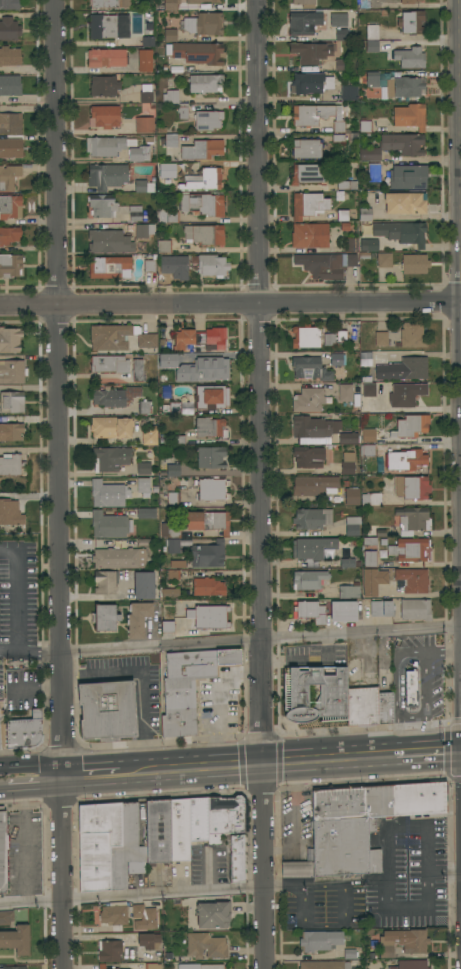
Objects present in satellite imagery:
building: (409, 1)
building: (303, 2)
building: (109, 3)
building: (9, 4)
road: (419, 5)
building: (170, 7)
building: (338, 19)
building: (411, 22)
building: (303, 23)
building: (205, 24)
building: (109, 26)
building: (9, 29)
building: (372, 32)
building: (341, 34)
building: (170, 35)
building: (147, 41)
building: (372, 46)
building: (306, 52)
building: (199, 53)
building: (9, 56)
building: (107, 57)
building: (409, 57)
building: (144, 61)
building: (341, 65)
building: (372, 79)
building: (205, 83)
building: (310, 83)
building: (10, 85)
building: (103, 86)
building: (407, 87)
building: (349, 92)
road: (460, 97)
building: (147, 98)
road: (460, 99)
building: (175, 103)
building: (311, 114)
building: (104, 116)
building: (410, 116)
building: (207, 120)
building: (10, 123)
building: (144, 125)
building: (365, 125)
building: (338, 126)
building: (169, 140)
building: (107, 145)
building: (393, 146)
building: (11, 148)
building: (307, 148)
building: (202, 149)
building: (138, 153)
building: (167, 170)
building: (374, 172)
building: (306, 175)
building: (9, 176)
building: (107, 176)
building: (408, 177)
building: (203, 180)
building: (144, 185)
building: (346, 185)
building: (375, 197)
building: (404, 203)
building: (202, 204)
building: (102, 205)
building: (308, 205)
building: (10, 206)
building: (135, 213)
building: (365, 214)
building: (342, 215)
building: (167, 217)
building: (142, 231)
building: (402, 232)
building: (204, 234)
building: (9, 235)
building: (309, 235)
building: (109, 242)
building: (351, 245)
building: (369, 245)
building: (164, 246)
building: (384, 260)
building: (167, 264)
building: (325, 264)
building: (414, 264)
building: (10, 265)
building: (212, 265)
building: (149, 266)
building: (109, 267)
road: (230, 303)
building: (341, 335)
building: (412, 335)
building: (119, 337)
building: (306, 337)
building: (200, 338)
building: (381, 338)
building: (329, 339)
building: (10, 340)
building: (336, 359)
building: (168, 360)
building: (108, 364)
building: (310, 368)
building: (204, 369)
building: (403, 369)
building: (138, 370)
building: (12, 372)
building: (369, 390)
building: (345, 393)
building: (406, 394)
building: (115, 396)
building: (212, 396)
building: (308, 400)
building: (12, 402)
building: (144, 407)
building: (175, 408)
building: (413, 425)
building: (111, 427)
building: (210, 427)
building: (12, 431)
building: (319, 431)
building: (369, 435)
building: (149, 437)
building: (178, 440)
building: (367, 451)
building: (211, 457)
building: (308, 457)
building: (110, 458)
building: (406, 460)
building: (347, 463)
building: (11, 464)
building: (143, 468)
building: (171, 470)
road: (59, 484)
road: (260, 484)
building: (143, 485)
building: (313, 485)
building: (412, 487)
building: (212, 489)
building: (109, 494)
building: (352, 496)
building: (173, 498)
building: (371, 499)
building: (10, 513)
building: (146, 513)
building: (312, 518)
building: (411, 519)
building: (208, 521)
building: (108, 525)
building: (352, 526)
building: (170, 530)
building: (371, 535)
building: (144, 542)
building: (315, 548)
building: (409, 550)
building: (200, 552)
building: (119, 558)
building: (370, 559)
building: (350, 563)
building: (178, 564)
building: (174, 575)
building: (381, 577)
building: (308, 580)
building: (412, 580)
building: (105, 582)
building: (143, 585)
building: (208, 587)
building: (350, 591)
building: (170, 593)
parking lot: (18, 606)
building: (381, 608)
building: (415, 609)
building: (343, 611)
building: (311, 612)
road: (17, 615)
building: (210, 617)
building: (105, 618)
building: (138, 619)
building: (167, 626)
road: (360, 633)
road: (160, 647)
road: (8, 651)
road: (140, 680)
building: (188, 686)
building: (410, 690)
building: (316, 693)
building: (362, 706)
building: (385, 708)
building: (107, 710)
building: (25, 732)
building: (0, 745)
road: (425, 752)
road: (254, 764)
road: (32, 765)
road: (90, 774)
road: (36, 789)
road: (3, 792)
building: (226, 816)
building: (198, 819)
building: (363, 822)
parking lot: (296, 826)
building: (179, 830)
building: (158, 831)
building: (131, 838)
building: (100, 847)
building: (3, 851)
building: (236, 858)
parking lot: (212, 864)
road: (387, 864)
building: (297, 869)
parking lot: (409, 872)
parking lot: (183, 874)
road: (443, 874)
road: (302, 886)
road: (131, 897)
parking lot: (323, 900)
building: (213, 914)
building: (114, 915)
building: (6, 917)
building: (144, 917)
building: (16, 939)
building: (320, 940)
building: (408, 940)
building: (149, 941)
building: (206, 945)
building: (109, 951)
building: (386, 952)
building: (350, 954)
building: (325, 965)
building: (411, 965)
building: (101, 966)
building: (152, 966)
building: (200, 966)
building: (14, 967)

